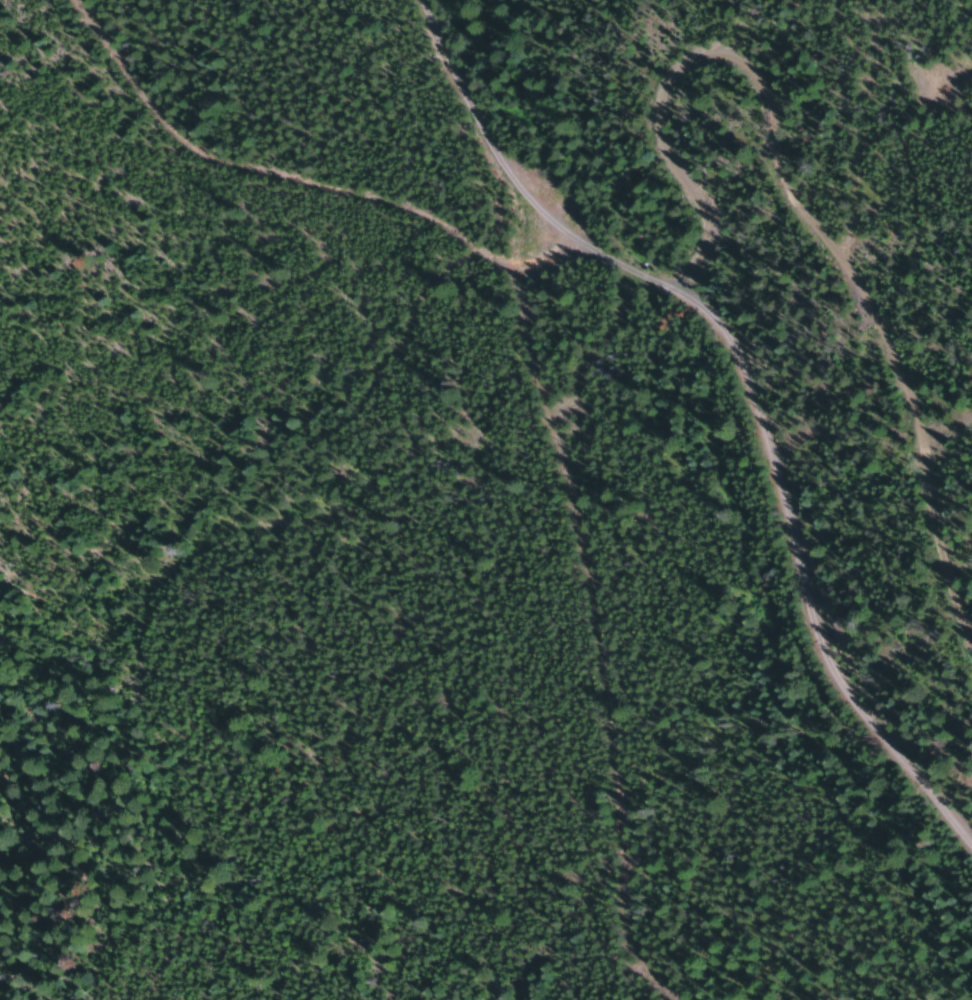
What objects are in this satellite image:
road: (463, 158)
road: (214, 278)
road: (808, 550)
road: (598, 677)

